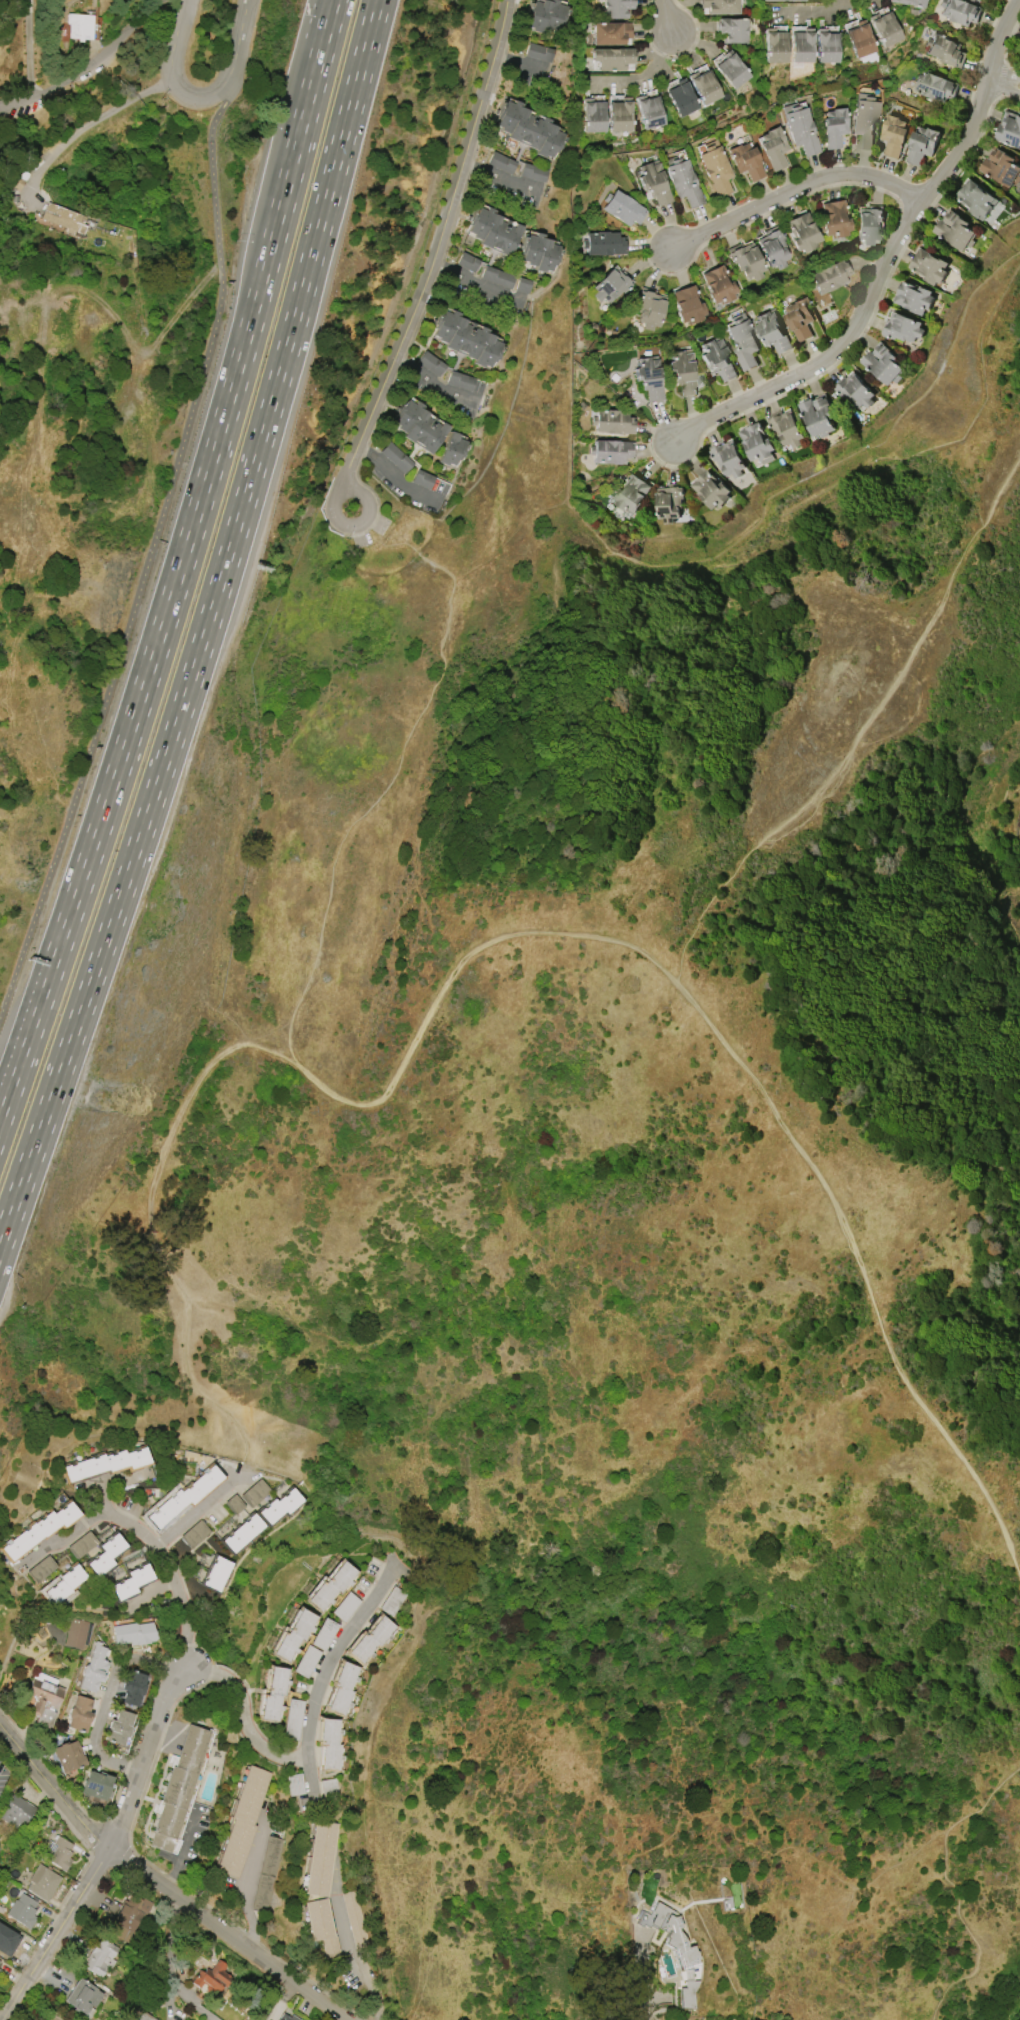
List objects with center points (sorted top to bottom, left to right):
building: (782, 0)
building: (909, 2)
road: (336, 4)
road: (337, 4)
building: (720, 6)
building: (615, 8)
building: (959, 10)
building: (545, 15)
road: (667, 15)
building: (80, 25)
building: (884, 29)
building: (731, 30)
building: (611, 33)
building: (859, 39)
road: (237, 42)
building: (774, 46)
building: (801, 46)
building: (826, 46)
road: (30, 48)
building: (945, 50)
building: (538, 53)
building: (612, 58)
road: (87, 64)
road: (171, 69)
building: (731, 70)
road: (1004, 73)
building: (935, 85)
building: (704, 87)
road: (1002, 87)
building: (681, 98)
building: (649, 111)
building: (592, 115)
building: (619, 115)
building: (863, 121)
road: (92, 127)
building: (832, 127)
building: (529, 129)
building: (799, 129)
building: (1009, 129)
building: (894, 135)
building: (923, 144)
building: (773, 148)
building: (746, 161)
building: (501, 163)
building: (1000, 166)
building: (716, 170)
building: (533, 172)
road: (495, 177)
building: (654, 182)
building: (684, 182)
road: (795, 188)
building: (976, 199)
building: (622, 208)
building: (64, 219)
building: (834, 219)
building: (868, 224)
building: (955, 230)
building: (493, 231)
building: (802, 232)
building: (603, 243)
building: (773, 247)
road: (435, 249)
building: (539, 252)
road: (888, 258)
building: (747, 261)
building: (467, 262)
building: (929, 266)
building: (497, 276)
building: (829, 277)
road: (476, 284)
building: (611, 284)
building: (719, 285)
building: (523, 286)
building: (914, 297)
building: (688, 305)
building: (650, 310)
building: (799, 318)
building: (902, 327)
building: (771, 330)
building: (466, 338)
building: (742, 340)
building: (716, 359)
building: (431, 364)
building: (883, 364)
building: (682, 371)
building: (648, 377)
road: (425, 381)
building: (461, 381)
building: (855, 391)
building: (818, 414)
building: (612, 422)
building: (418, 426)
building: (787, 429)
building: (757, 442)
building: (451, 449)
building: (610, 451)
building: (396, 458)
building: (728, 458)
building: (422, 479)
building: (711, 489)
building: (632, 493)
building: (669, 501)
road: (366, 516)
road: (150, 555)
road: (182, 573)
road: (204, 623)
road: (859, 731)
road: (389, 784)
road: (740, 1061)
road: (154, 1223)
building: (105, 1463)
road: (115, 1482)
building: (254, 1493)
building: (183, 1497)
road: (105, 1500)
building: (233, 1504)
building: (278, 1506)
road: (201, 1512)
building: (38, 1530)
building: (241, 1533)
building: (194, 1534)
road: (66, 1537)
building: (81, 1545)
building: (105, 1554)
building: (41, 1569)
building: (215, 1573)
building: (131, 1581)
building: (64, 1584)
building: (330, 1586)
building: (393, 1601)
building: (345, 1607)
building: (76, 1633)
building: (133, 1633)
building: (324, 1634)
building: (293, 1635)
building: (370, 1639)
building: (306, 1661)
building: (94, 1669)
road: (183, 1674)
road: (328, 1675)
building: (131, 1687)
building: (341, 1688)
building: (272, 1693)
building: (44, 1697)
road: (111, 1701)
building: (79, 1714)
road: (246, 1716)
building: (292, 1719)
building: (118, 1728)
building: (329, 1743)
building: (68, 1756)
building: (95, 1785)
building: (294, 1785)
building: (329, 1786)
building: (178, 1788)
building: (17, 1813)
building: (242, 1821)
road: (186, 1850)
building: (58, 1854)
building: (320, 1859)
building: (266, 1875)
road: (252, 1880)
building: (42, 1882)
road: (955, 1883)
road: (160, 1886)
building: (22, 1911)
building: (128, 1917)
building: (355, 1920)
building: (320, 1927)
building: (670, 1934)
road: (57, 1936)
building: (8, 1941)
building: (100, 1957)
building: (0, 1962)
road: (358, 1968)
building: (0, 1972)
building: (212, 1978)
road: (641, 1978)
building: (687, 1994)
building: (83, 1998)
building: (144, 2017)
building: (288, 2017)

